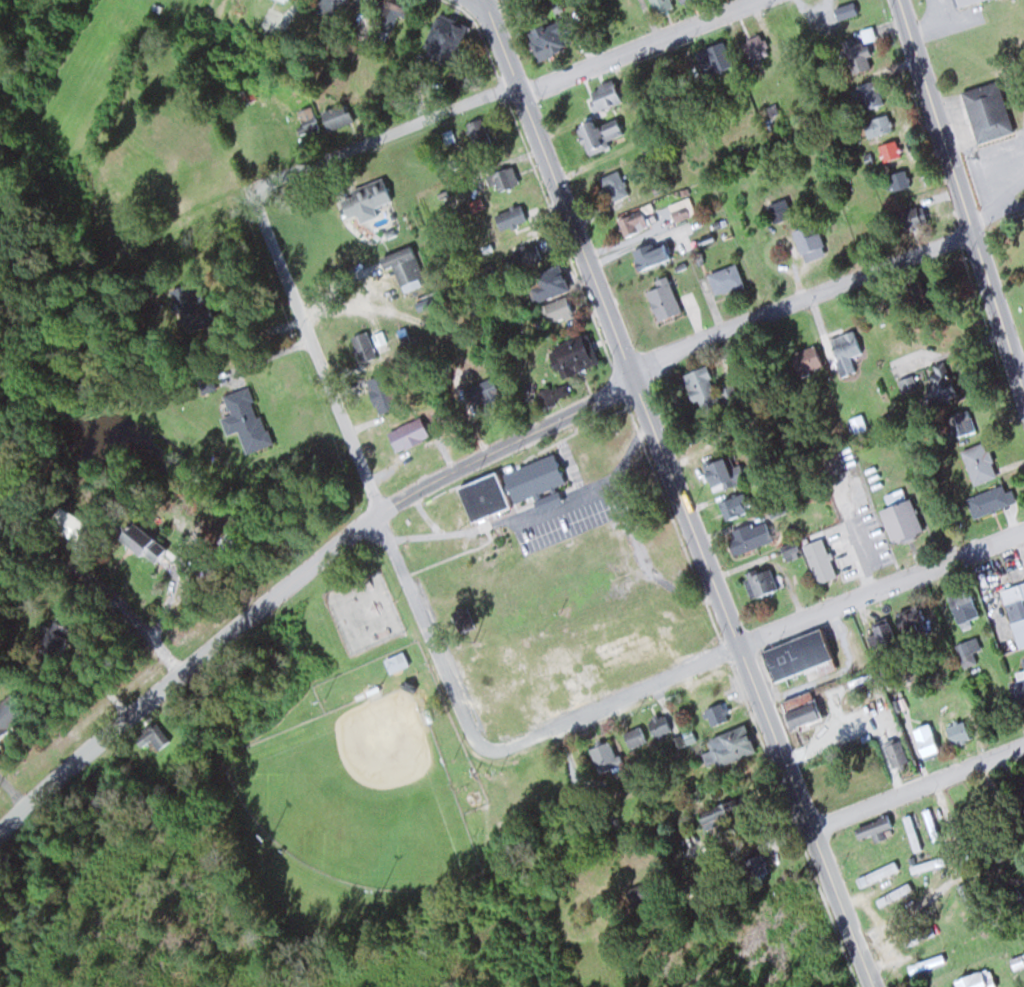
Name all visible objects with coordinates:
road: (483, 0)
building: (287, 1)
building: (962, 1)
building: (660, 5)
building: (330, 7)
building: (845, 10)
building: (385, 16)
building: (784, 32)
building: (445, 37)
road: (640, 46)
building: (546, 47)
building: (754, 48)
building: (856, 55)
building: (712, 57)
building: (870, 93)
building: (603, 96)
building: (986, 110)
building: (335, 116)
building: (306, 118)
building: (877, 125)
building: (477, 133)
building: (598, 134)
road: (381, 136)
building: (889, 150)
building: (501, 178)
building: (898, 179)
building: (613, 185)
road: (960, 196)
building: (363, 197)
building: (524, 206)
building: (910, 217)
building: (630, 223)
building: (808, 241)
building: (649, 254)
building: (402, 267)
building: (724, 279)
building: (545, 282)
building: (916, 290)
building: (662, 299)
road: (800, 302)
building: (187, 305)
building: (556, 309)
building: (365, 351)
building: (844, 351)
building: (573, 354)
building: (804, 360)
building: (940, 382)
building: (701, 386)
building: (483, 391)
building: (245, 417)
building: (407, 433)
building: (978, 462)
road: (368, 477)
building: (719, 478)
building: (535, 481)
road: (678, 493)
building: (482, 496)
building: (987, 500)
building: (732, 506)
building: (900, 519)
building: (68, 521)
building: (748, 536)
building: (133, 537)
building: (870, 537)
building: (819, 560)
road: (298, 575)
road: (92, 577)
building: (759, 582)
road: (881, 587)
building: (1021, 588)
building: (962, 607)
building: (461, 618)
building: (909, 620)
building: (1016, 620)
building: (882, 632)
building: (51, 639)
building: (967, 651)
building: (620, 655)
building: (799, 656)
building: (396, 661)
building: (1018, 693)
road: (611, 701)
building: (845, 706)
building: (715, 713)
building: (800, 713)
building: (5, 716)
building: (658, 726)
building: (958, 732)
building: (633, 737)
building: (925, 740)
building: (731, 744)
building: (893, 753)
building: (603, 757)
road: (917, 787)
road: (936, 819)
building: (1020, 819)
building: (872, 828)
building: (912, 832)
building: (924, 865)
building: (753, 866)
building: (877, 873)
building: (893, 895)
building: (1018, 898)
building: (926, 963)
building: (973, 980)

